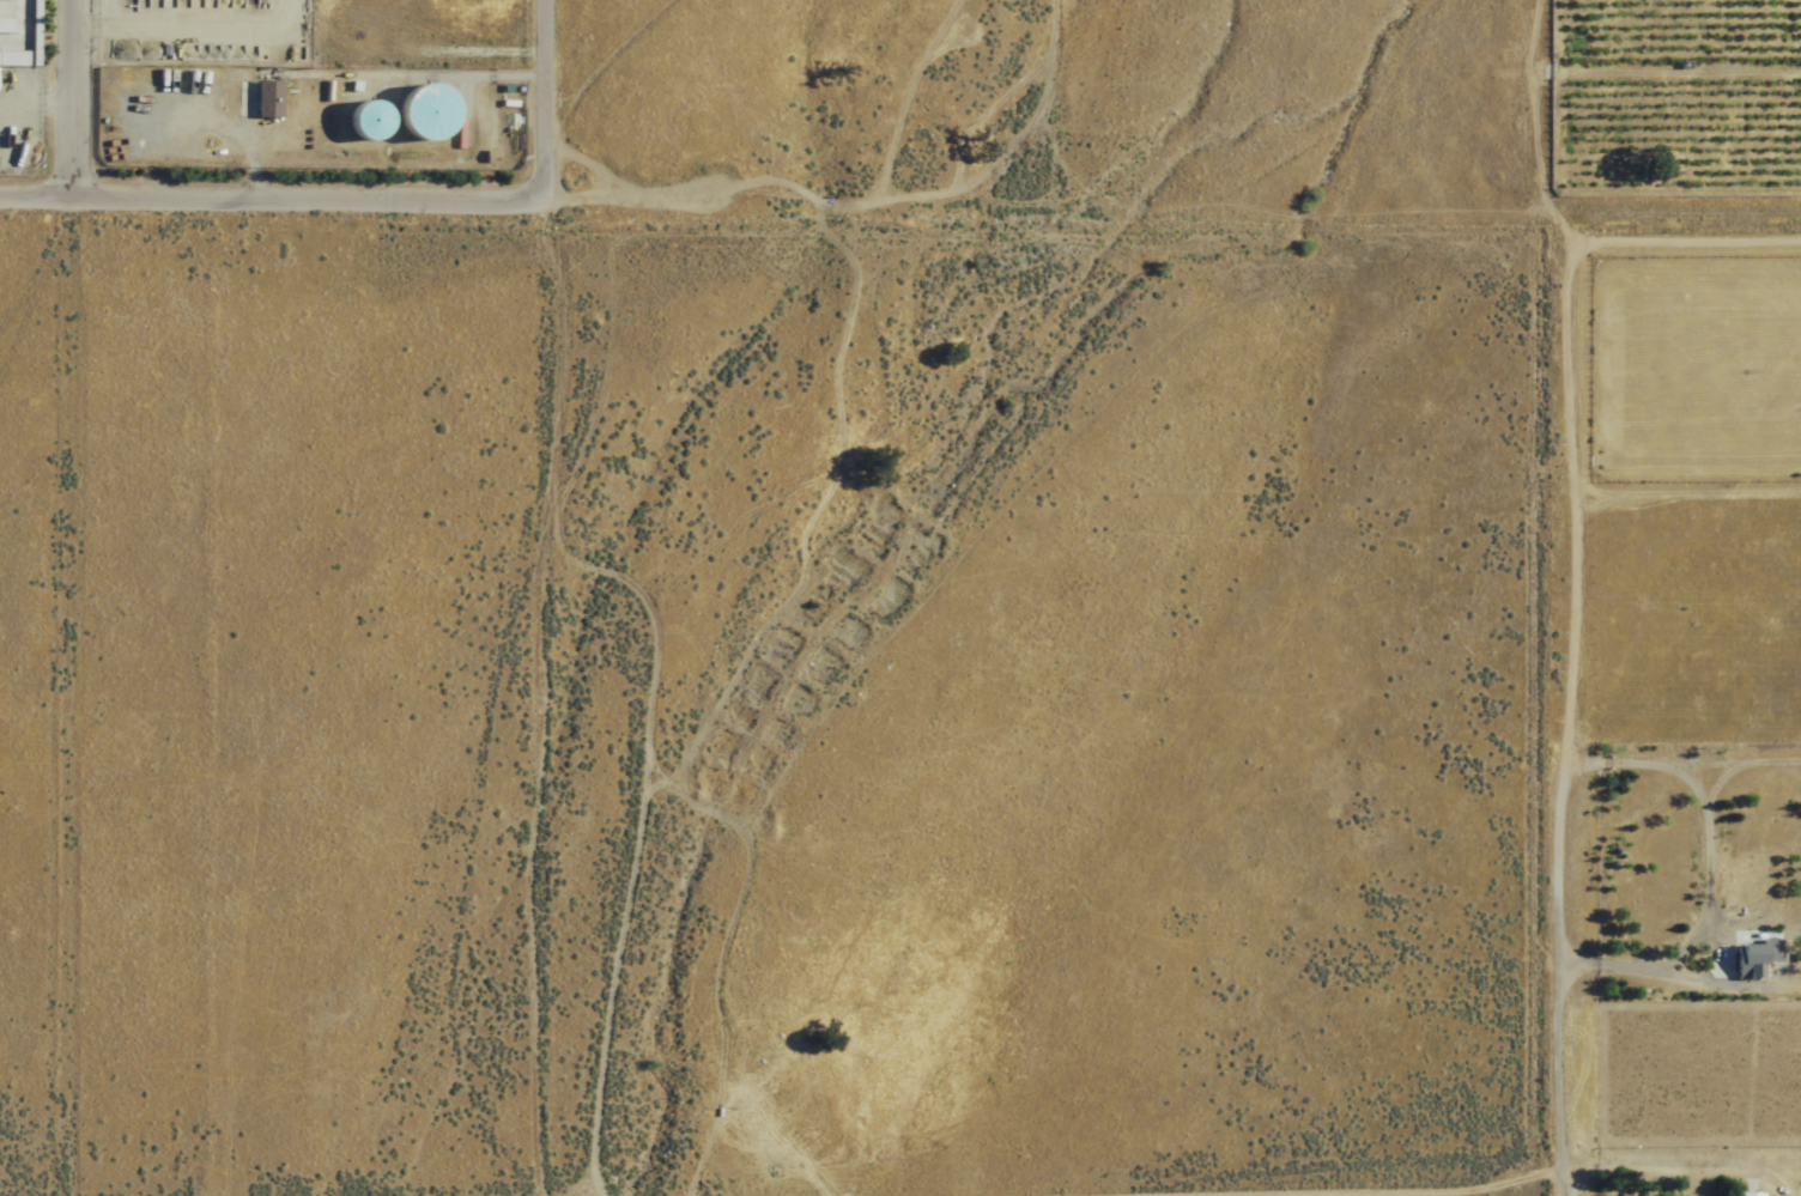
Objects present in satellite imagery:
building: (20, 41)
road: (67, 93)
road: (540, 95)
building: (267, 98)
building: (420, 111)
building: (364, 120)
road: (34, 186)
road: (303, 189)
road: (1534, 581)
building: (1746, 970)
road: (1545, 1172)
road: (1564, 1190)
building: (1748, 1194)

